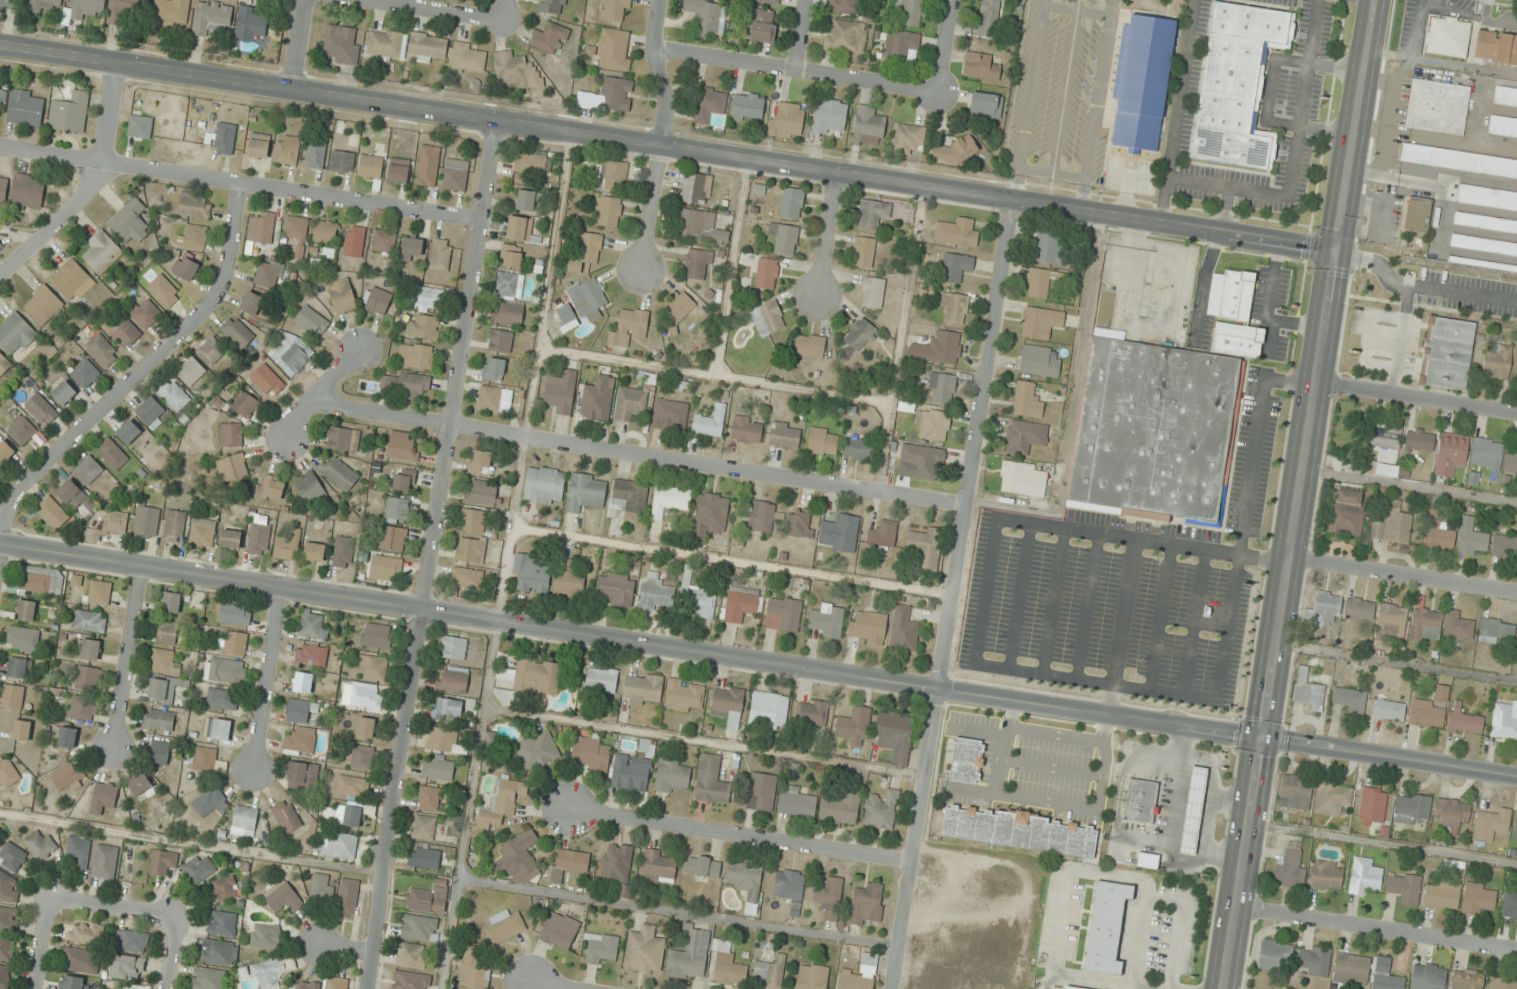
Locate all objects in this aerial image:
building: (768, 1)
road: (1369, 1)
building: (10, 3)
building: (42, 5)
building: (552, 6)
building: (844, 6)
building: (88, 8)
building: (614, 9)
road: (435, 10)
road: (505, 10)
building: (123, 11)
building: (172, 11)
building: (908, 12)
building: (707, 16)
building: (211, 17)
building: (989, 18)
building: (251, 24)
building: (762, 26)
road: (801, 35)
building: (846, 36)
building: (550, 37)
building: (1447, 37)
road: (300, 43)
building: (386, 44)
building: (341, 45)
building: (427, 46)
building: (902, 46)
road: (943, 47)
building: (1496, 47)
building: (613, 49)
building: (467, 58)
road: (1442, 61)
building: (980, 66)
building: (511, 68)
road: (796, 70)
building: (1143, 82)
building: (1237, 84)
road: (1270, 89)
building: (609, 95)
building: (1505, 96)
building: (2, 99)
building: (710, 104)
building: (986, 104)
building: (748, 106)
building: (1437, 107)
building: (25, 108)
building: (69, 112)
road: (1177, 112)
building: (829, 116)
building: (787, 121)
building: (868, 126)
building: (140, 127)
building: (1502, 127)
road: (663, 134)
building: (225, 138)
building: (908, 139)
building: (259, 145)
road: (668, 146)
building: (288, 151)
building: (957, 151)
building: (315, 153)
road: (1294, 159)
building: (343, 161)
building: (1459, 161)
building: (533, 163)
building: (427, 165)
building: (370, 167)
building: (398, 171)
building: (611, 174)
building: (455, 175)
road: (239, 184)
road: (91, 186)
building: (696, 189)
building: (28, 190)
building: (3, 191)
building: (1487, 198)
building: (532, 200)
building: (792, 203)
building: (195, 206)
building: (608, 211)
road: (1226, 211)
building: (873, 214)
building: (1417, 214)
building: (130, 222)
building: (1485, 223)
building: (701, 227)
building: (262, 228)
building: (519, 228)
building: (325, 232)
building: (957, 232)
building: (297, 233)
road: (828, 234)
building: (196, 236)
building: (785, 238)
building: (354, 241)
building: (384, 241)
building: (1, 245)
building: (1484, 245)
building: (411, 246)
building: (1049, 247)
building: (101, 251)
building: (585, 251)
building: (863, 251)
building: (440, 254)
traffic signals: (1337, 254)
building: (511, 256)
building: (697, 264)
road: (1374, 264)
road: (730, 266)
building: (956, 267)
building: (187, 268)
building: (767, 273)
building: (268, 274)
building: (72, 280)
building: (1038, 283)
building: (507, 285)
building: (165, 290)
building: (873, 292)
road: (1462, 292)
parking lot: (1467, 293)
building: (1231, 295)
building: (342, 296)
building: (427, 298)
building: (588, 298)
building: (378, 301)
building: (251, 303)
building: (43, 304)
building: (680, 306)
building: (954, 307)
building: (144, 312)
building: (565, 312)
building: (508, 314)
building: (767, 318)
building: (311, 321)
building: (1041, 322)
building: (423, 326)
building: (629, 327)
building: (125, 332)
building: (237, 332)
building: (16, 334)
building: (860, 334)
road: (899, 338)
road: (1367, 338)
building: (1238, 339)
road: (1398, 339)
building: (500, 341)
building: (809, 345)
building: (938, 348)
building: (103, 349)
building: (211, 351)
building: (1447, 352)
building: (290, 353)
building: (416, 356)
building: (1038, 361)
building: (1497, 361)
building: (4, 363)
building: (493, 369)
building: (190, 371)
building: (85, 373)
road: (713, 374)
road: (137, 377)
building: (267, 380)
building: (406, 384)
building: (942, 388)
road: (317, 389)
building: (561, 391)
building: (63, 392)
building: (173, 395)
building: (492, 397)
road: (1417, 397)
building: (598, 398)
building: (1028, 400)
building: (244, 404)
building: (630, 404)
building: (41, 409)
building: (151, 412)
building: (670, 415)
building: (709, 423)
building: (931, 424)
building: (747, 430)
building: (21, 431)
building: (128, 431)
building: (1152, 431)
building: (231, 435)
building: (785, 435)
building: (1024, 436)
building: (1385, 437)
building: (343, 439)
building: (822, 441)
building: (1419, 441)
building: (403, 446)
building: (859, 449)
building: (5, 451)
building: (112, 453)
building: (1450, 453)
building: (1486, 453)
road: (635, 454)
building: (479, 461)
building: (926, 461)
building: (1510, 463)
building: (232, 467)
building: (88, 470)
building: (339, 474)
building: (404, 479)
building: (1021, 480)
building: (543, 485)
road: (1410, 486)
building: (271, 488)
building: (310, 489)
building: (585, 492)
building: (482, 494)
road: (1299, 494)
building: (74, 495)
building: (630, 495)
building: (670, 500)
building: (398, 509)
building: (52, 512)
building: (1346, 512)
road: (1245, 513)
building: (709, 516)
building: (762, 516)
building: (473, 520)
building: (115, 521)
building: (146, 521)
building: (800, 523)
building: (1392, 523)
building: (174, 526)
building: (1437, 532)
building: (202, 533)
building: (839, 533)
building: (882, 535)
building: (230, 538)
building: (392, 538)
building: (1471, 538)
building: (258, 539)
road: (1142, 540)
building: (288, 546)
building: (1504, 546)
building: (470, 549)
building: (925, 550)
building: (314, 552)
building: (343, 552)
road: (428, 553)
road: (504, 559)
road: (729, 561)
building: (386, 566)
building: (569, 572)
building: (532, 573)
road: (1403, 575)
building: (467, 578)
building: (41, 581)
parking lot: (1124, 586)
building: (614, 588)
road: (984, 590)
building: (99, 593)
building: (656, 594)
road: (949, 594)
road: (1019, 596)
building: (697, 599)
road: (1052, 601)
building: (171, 602)
building: (739, 604)
road: (1087, 606)
building: (1359, 608)
building: (26, 610)
building: (1324, 610)
building: (235, 614)
building: (783, 614)
road: (1159, 617)
building: (90, 621)
building: (827, 621)
road: (1193, 622)
building: (1391, 622)
building: (312, 625)
building: (1425, 625)
building: (1458, 626)
building: (904, 630)
building: (1495, 630)
building: (166, 633)
building: (376, 635)
building: (22, 639)
building: (235, 643)
building: (454, 645)
building: (90, 649)
building: (312, 653)
road: (125, 657)
road: (758, 661)
road: (1397, 661)
building: (163, 662)
building: (17, 667)
building: (373, 667)
building: (224, 670)
road: (1113, 673)
building: (87, 678)
road: (267, 679)
building: (528, 679)
building: (453, 680)
building: (601, 681)
road: (1093, 681)
building: (303, 682)
building: (642, 689)
building: (1308, 690)
building: (163, 691)
building: (684, 695)
building: (12, 697)
building: (366, 698)
building: (222, 699)
building: (1351, 700)
building: (727, 705)
building: (82, 708)
building: (447, 709)
building: (1429, 709)
building: (300, 710)
building: (769, 710)
building: (1388, 710)
building: (811, 713)
building: (1463, 719)
building: (1504, 719)
building: (158, 720)
building: (854, 725)
building: (365, 727)
building: (219, 729)
building: (21, 730)
building: (894, 735)
building: (67, 737)
traffic signals: (1262, 740)
building: (299, 741)
building: (444, 741)
road: (702, 742)
building: (536, 750)
building: (159, 752)
building: (591, 753)
building: (362, 757)
building: (203, 758)
building: (967, 760)
building: (438, 768)
building: (634, 768)
building: (7, 771)
building: (671, 775)
building: (68, 776)
building: (302, 776)
building: (711, 780)
building: (140, 784)
building: (352, 786)
building: (761, 791)
building: (1295, 792)
building: (103, 797)
building: (1332, 797)
building: (428, 798)
building: (1139, 800)
building: (796, 802)
building: (209, 803)
building: (503, 803)
building: (1373, 805)
building: (841, 808)
gas station: (1190, 808)
building: (1412, 808)
building: (1192, 810)
building: (881, 811)
building: (1451, 813)
building: (348, 815)
building: (287, 816)
building: (245, 819)
building: (1491, 824)
building: (423, 827)
building: (1515, 828)
building: (1020, 831)
road: (741, 835)
building: (40, 844)
road: (190, 844)
road: (1383, 844)
building: (338, 845)
building: (79, 851)
building: (12, 856)
building: (424, 857)
building: (518, 858)
building: (1145, 860)
building: (105, 862)
building: (162, 862)
building: (568, 865)
building: (702, 865)
building: (658, 866)
building: (617, 867)
building: (1290, 867)
building: (199, 869)
building: (1327, 875)
building: (1364, 876)
building: (746, 882)
building: (321, 887)
building: (1404, 887)
building: (8, 888)
building: (226, 888)
building: (790, 888)
building: (1441, 896)
building: (347, 897)
building: (829, 897)
building: (283, 898)
building: (428, 898)
building: (1478, 898)
building: (867, 904)
building: (1509, 904)
road: (115, 910)
road: (675, 912)
building: (8, 919)
building: (222, 923)
building: (1104, 927)
building: (420, 928)
building: (503, 928)
building: (559, 930)
road: (1377, 931)
building: (86, 933)
building: (265, 936)
building: (131, 941)
road: (45, 944)
building: (6, 948)
road: (345, 948)
building: (601, 948)
building: (645, 950)
building: (218, 952)
road: (171, 955)
building: (411, 955)
building: (1274, 955)
building: (689, 957)
building: (1314, 959)
building: (81, 960)
building: (727, 965)
building: (126, 967)
building: (1351, 969)
building: (475, 972)
building: (769, 973)
building: (268, 974)
building: (859, 974)
building: (1385, 975)
building: (4, 976)
building: (812, 976)
building: (1427, 976)
building: (208, 978)
building: (1467, 979)
building: (410, 980)
building: (74, 982)
building: (336, 983)
building: (1501, 983)
building: (307, 985)
road: (552, 986)
building: (1071, 987)

